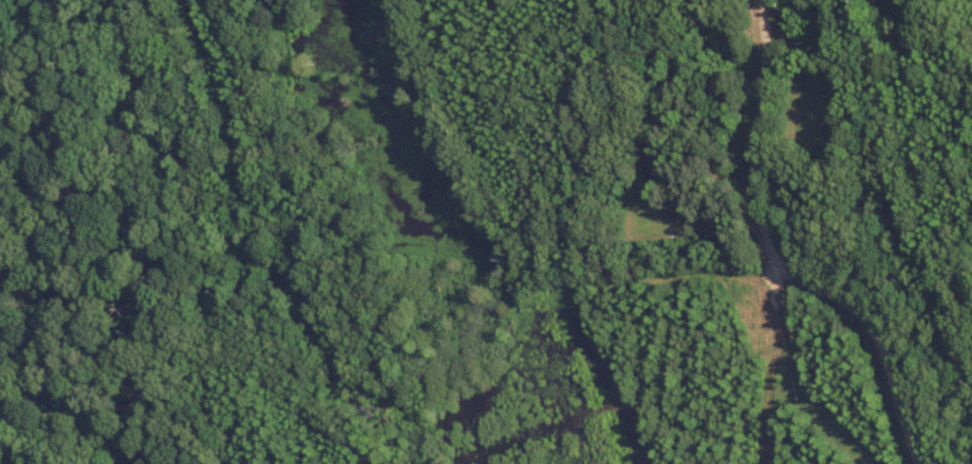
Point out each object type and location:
building: (734, 34)
road: (798, 73)

